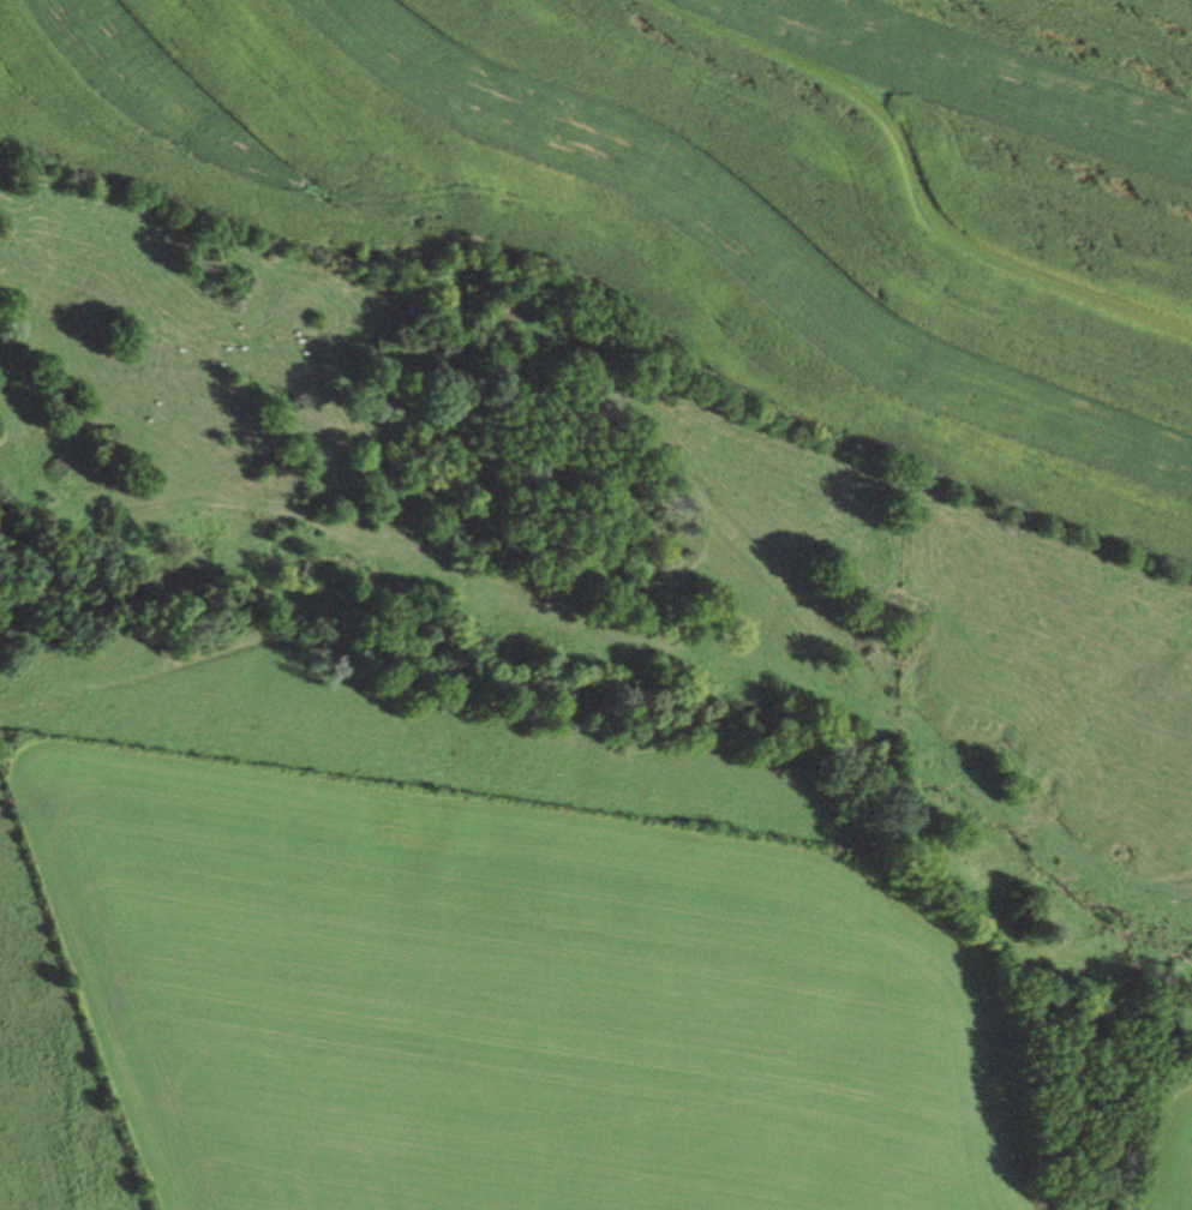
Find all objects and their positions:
building: (486, 339)

